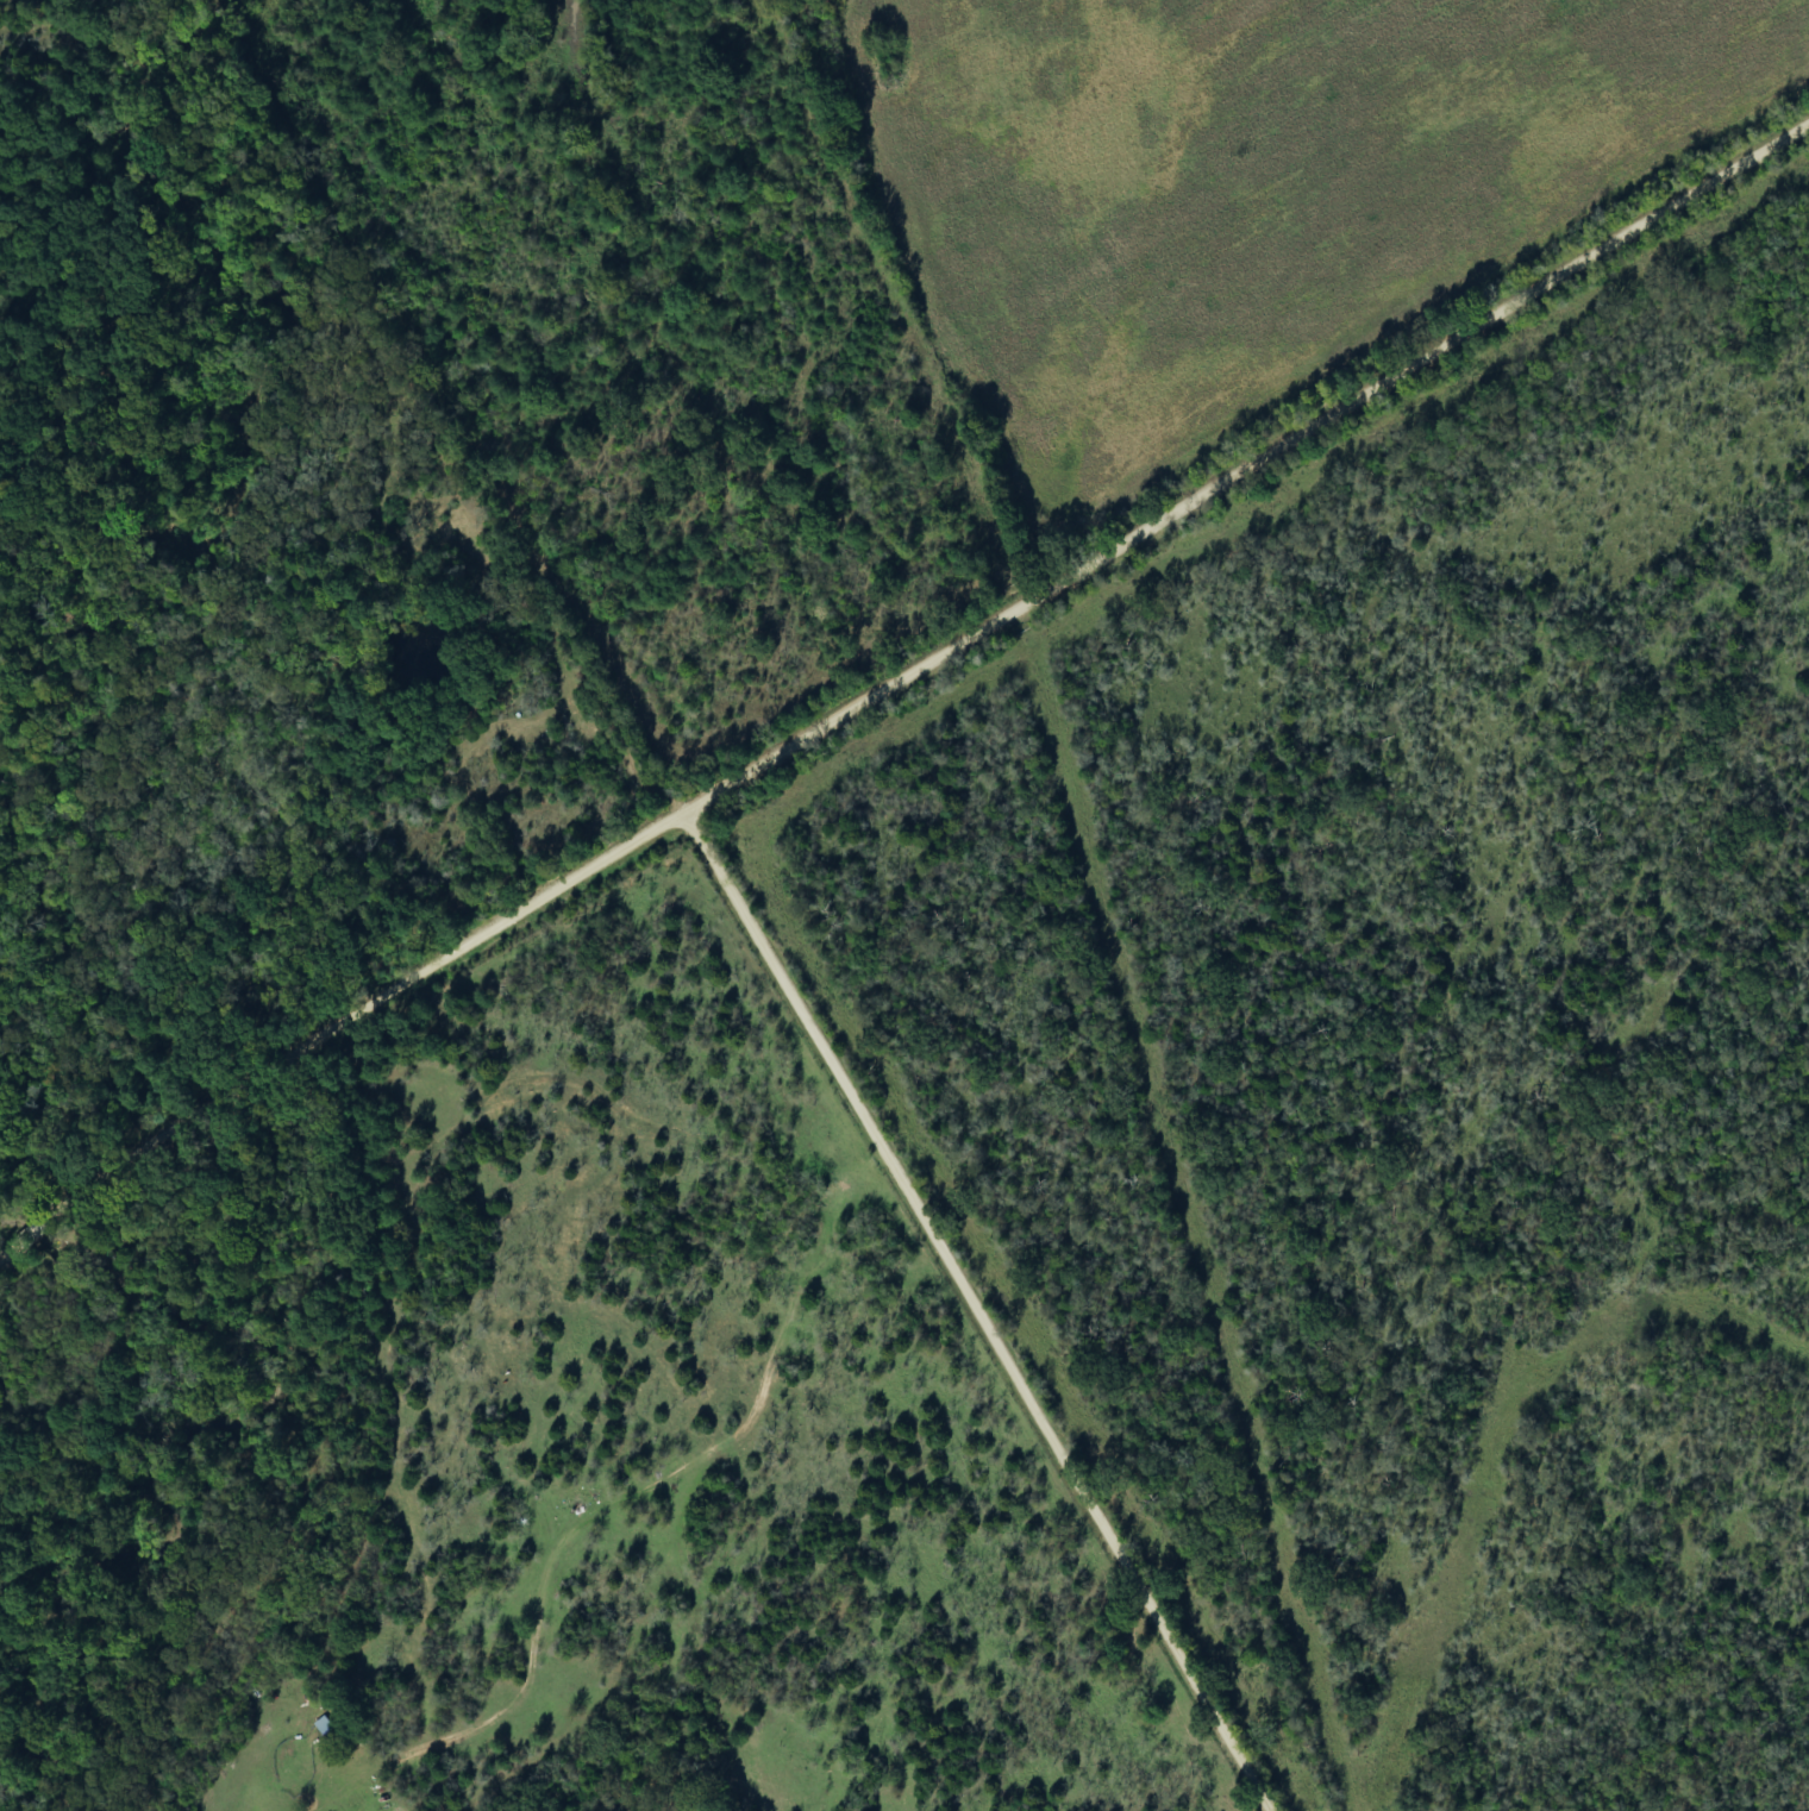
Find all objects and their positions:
road: (899, 689)
road: (989, 1310)
building: (328, 1728)

